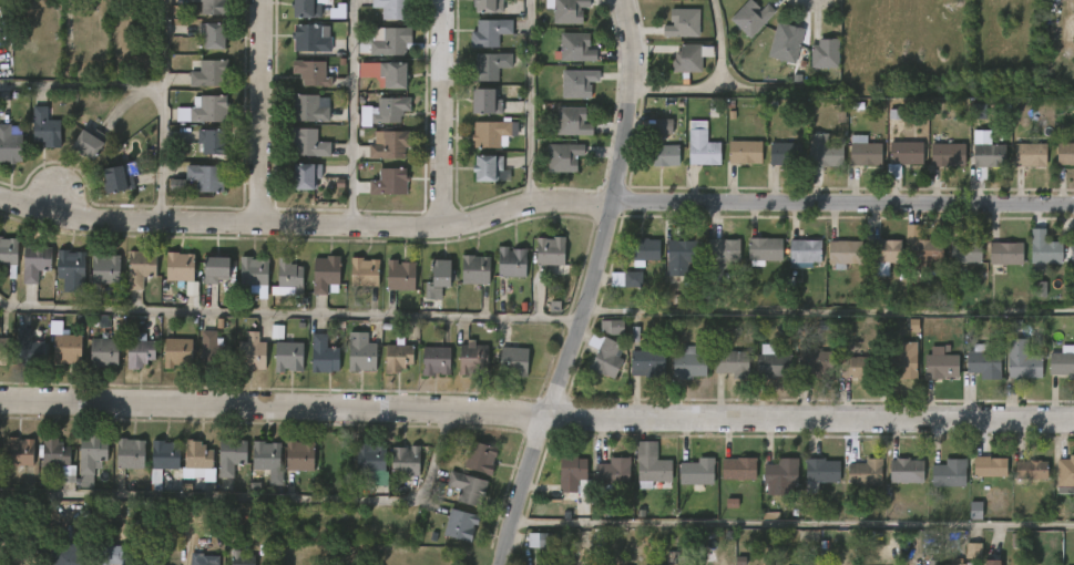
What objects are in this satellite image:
building: (16, 4)
building: (488, 6)
building: (214, 7)
building: (305, 8)
building: (392, 8)
building: (570, 10)
building: (748, 17)
building: (683, 23)
building: (489, 32)
building: (213, 35)
building: (309, 38)
building: (783, 41)
building: (391, 42)
road: (161, 43)
building: (579, 47)
building: (821, 52)
building: (687, 56)
building: (489, 66)
building: (311, 72)
building: (209, 73)
building: (390, 74)
building: (580, 82)
road: (715, 85)
road: (147, 88)
road: (630, 101)
building: (484, 102)
road: (530, 103)
building: (389, 109)
building: (207, 110)
building: (307, 110)
road: (262, 112)
road: (351, 112)
road: (446, 113)
building: (575, 121)
building: (663, 126)
building: (43, 127)
building: (493, 133)
building: (211, 142)
building: (10, 143)
building: (86, 144)
building: (308, 144)
building: (390, 145)
building: (700, 145)
building: (863, 151)
building: (986, 151)
building: (744, 152)
building: (822, 152)
building: (785, 154)
building: (1030, 154)
building: (1065, 154)
building: (665, 155)
building: (947, 155)
building: (566, 156)
building: (902, 156)
building: (489, 169)
building: (303, 175)
building: (117, 177)
building: (208, 177)
building: (389, 182)
road: (843, 203)
road: (306, 224)
building: (760, 249)
building: (641, 250)
building: (801, 250)
building: (923, 250)
building: (1071, 250)
building: (550, 251)
building: (1043, 251)
building: (718, 253)
building: (841, 253)
building: (1002, 253)
building: (962, 254)
building: (678, 255)
building: (880, 255)
building: (8, 256)
building: (35, 261)
building: (511, 263)
building: (178, 267)
building: (70, 268)
building: (104, 268)
building: (139, 268)
building: (214, 270)
building: (475, 270)
building: (252, 273)
building: (364, 273)
building: (288, 275)
building: (324, 275)
building: (400, 275)
building: (624, 278)
building: (436, 279)
building: (259, 291)
road: (288, 311)
road: (828, 312)
building: (612, 327)
building: (27, 346)
building: (65, 349)
building: (139, 349)
building: (2, 350)
building: (103, 351)
building: (176, 352)
building: (213, 352)
building: (249, 352)
building: (361, 352)
building: (321, 353)
building: (288, 356)
building: (398, 356)
building: (607, 356)
building: (472, 357)
building: (513, 359)
building: (896, 359)
building: (436, 360)
building: (1020, 360)
building: (688, 361)
building: (981, 361)
building: (647, 362)
building: (732, 362)
building: (1061, 362)
building: (771, 363)
building: (815, 363)
building: (937, 364)
building: (855, 367)
road: (556, 383)
road: (536, 412)
building: (18, 450)
building: (90, 451)
building: (130, 452)
building: (163, 453)
building: (228, 454)
building: (298, 454)
building: (57, 458)
building: (484, 458)
building: (267, 460)
building: (198, 461)
building: (407, 461)
building: (375, 462)
building: (651, 464)
building: (986, 468)
building: (735, 469)
building: (1027, 469)
building: (819, 471)
building: (902, 471)
building: (697, 472)
building: (778, 472)
building: (861, 472)
building: (945, 472)
building: (1064, 472)
building: (573, 473)
building: (612, 473)
building: (470, 487)
building: (975, 511)
building: (461, 524)
road: (791, 524)
building: (37, 537)
building: (539, 541)
building: (973, 551)
building: (113, 555)
building: (68, 556)
building: (243, 558)
building: (205, 559)
building: (992, 561)
building: (154, 562)
building: (957, 562)
building: (555, 563)
building: (663, 564)

